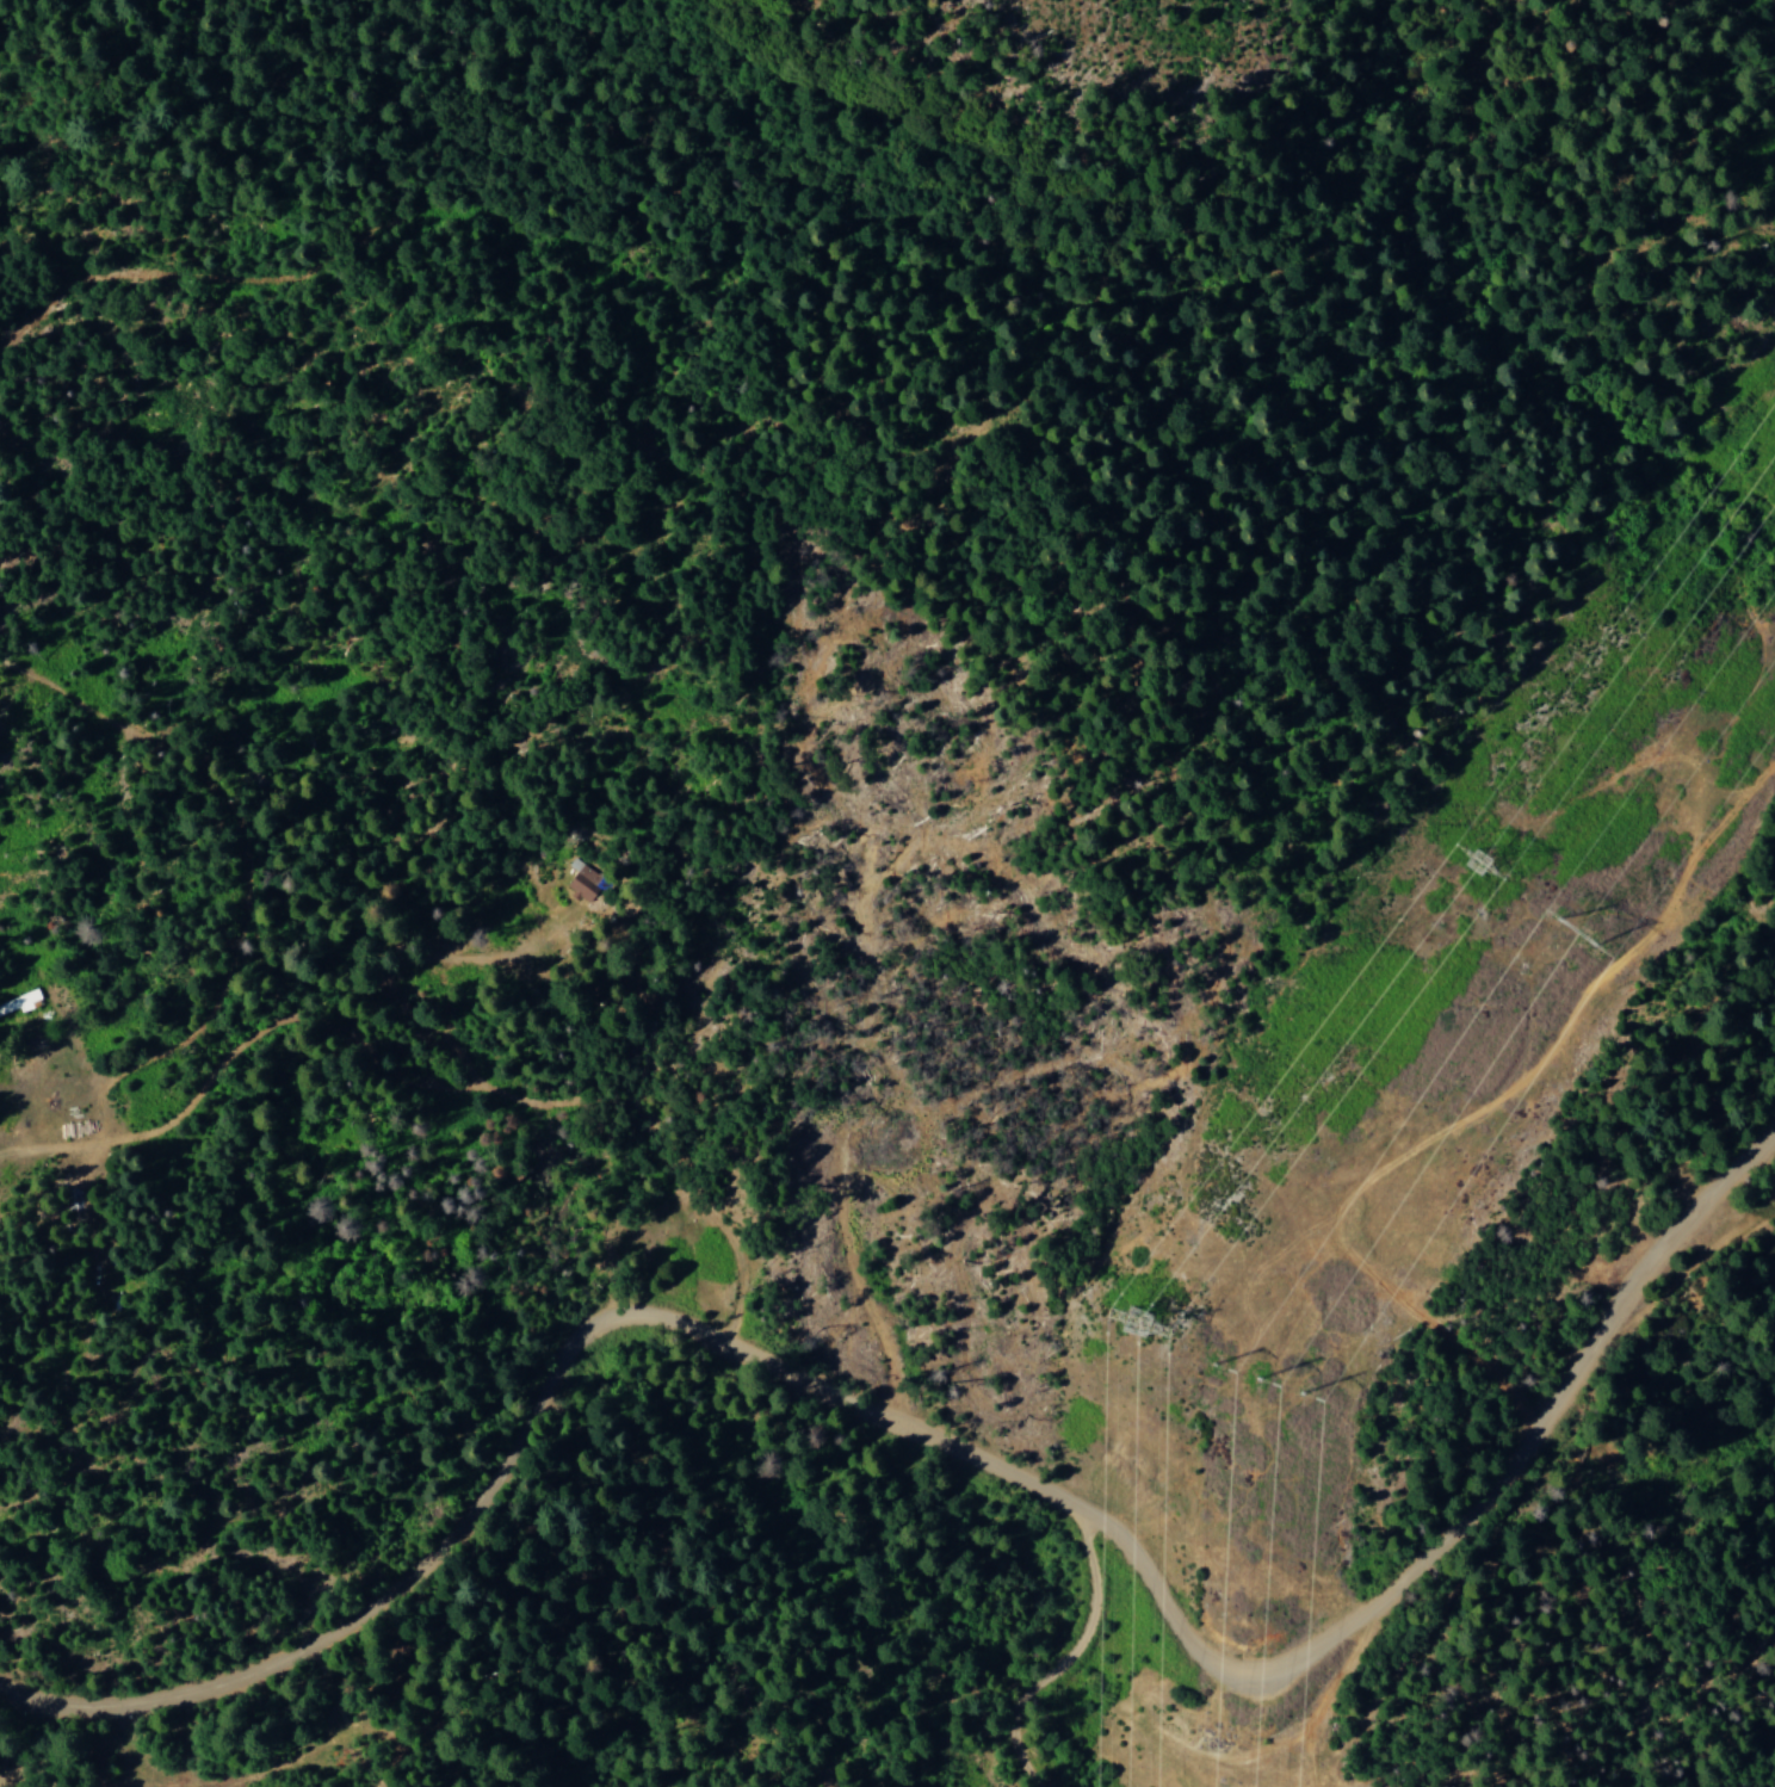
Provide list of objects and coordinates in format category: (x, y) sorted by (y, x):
power tower: (1486, 866)
building: (586, 884)
power tower: (1577, 938)
building: (19, 1003)
power tower: (1134, 1322)
power tower: (1266, 1375)
road: (957, 1489)
road: (1052, 1678)
road: (161, 1756)

